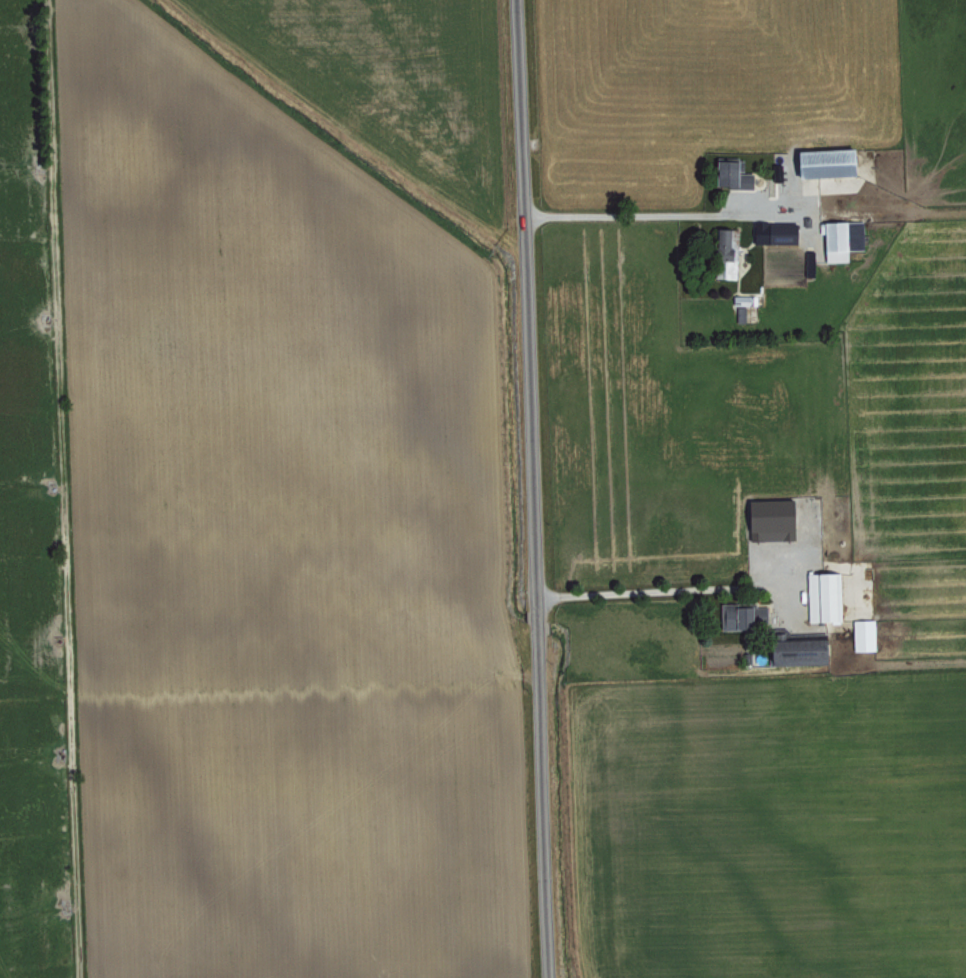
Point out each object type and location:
building: (823, 162)
building: (729, 174)
road: (650, 215)
building: (776, 233)
building: (840, 239)
building: (725, 253)
building: (809, 263)
building: (742, 306)
road: (539, 488)
building: (769, 519)
road: (664, 591)
building: (822, 596)
building: (741, 616)
building: (862, 634)
building: (796, 650)

